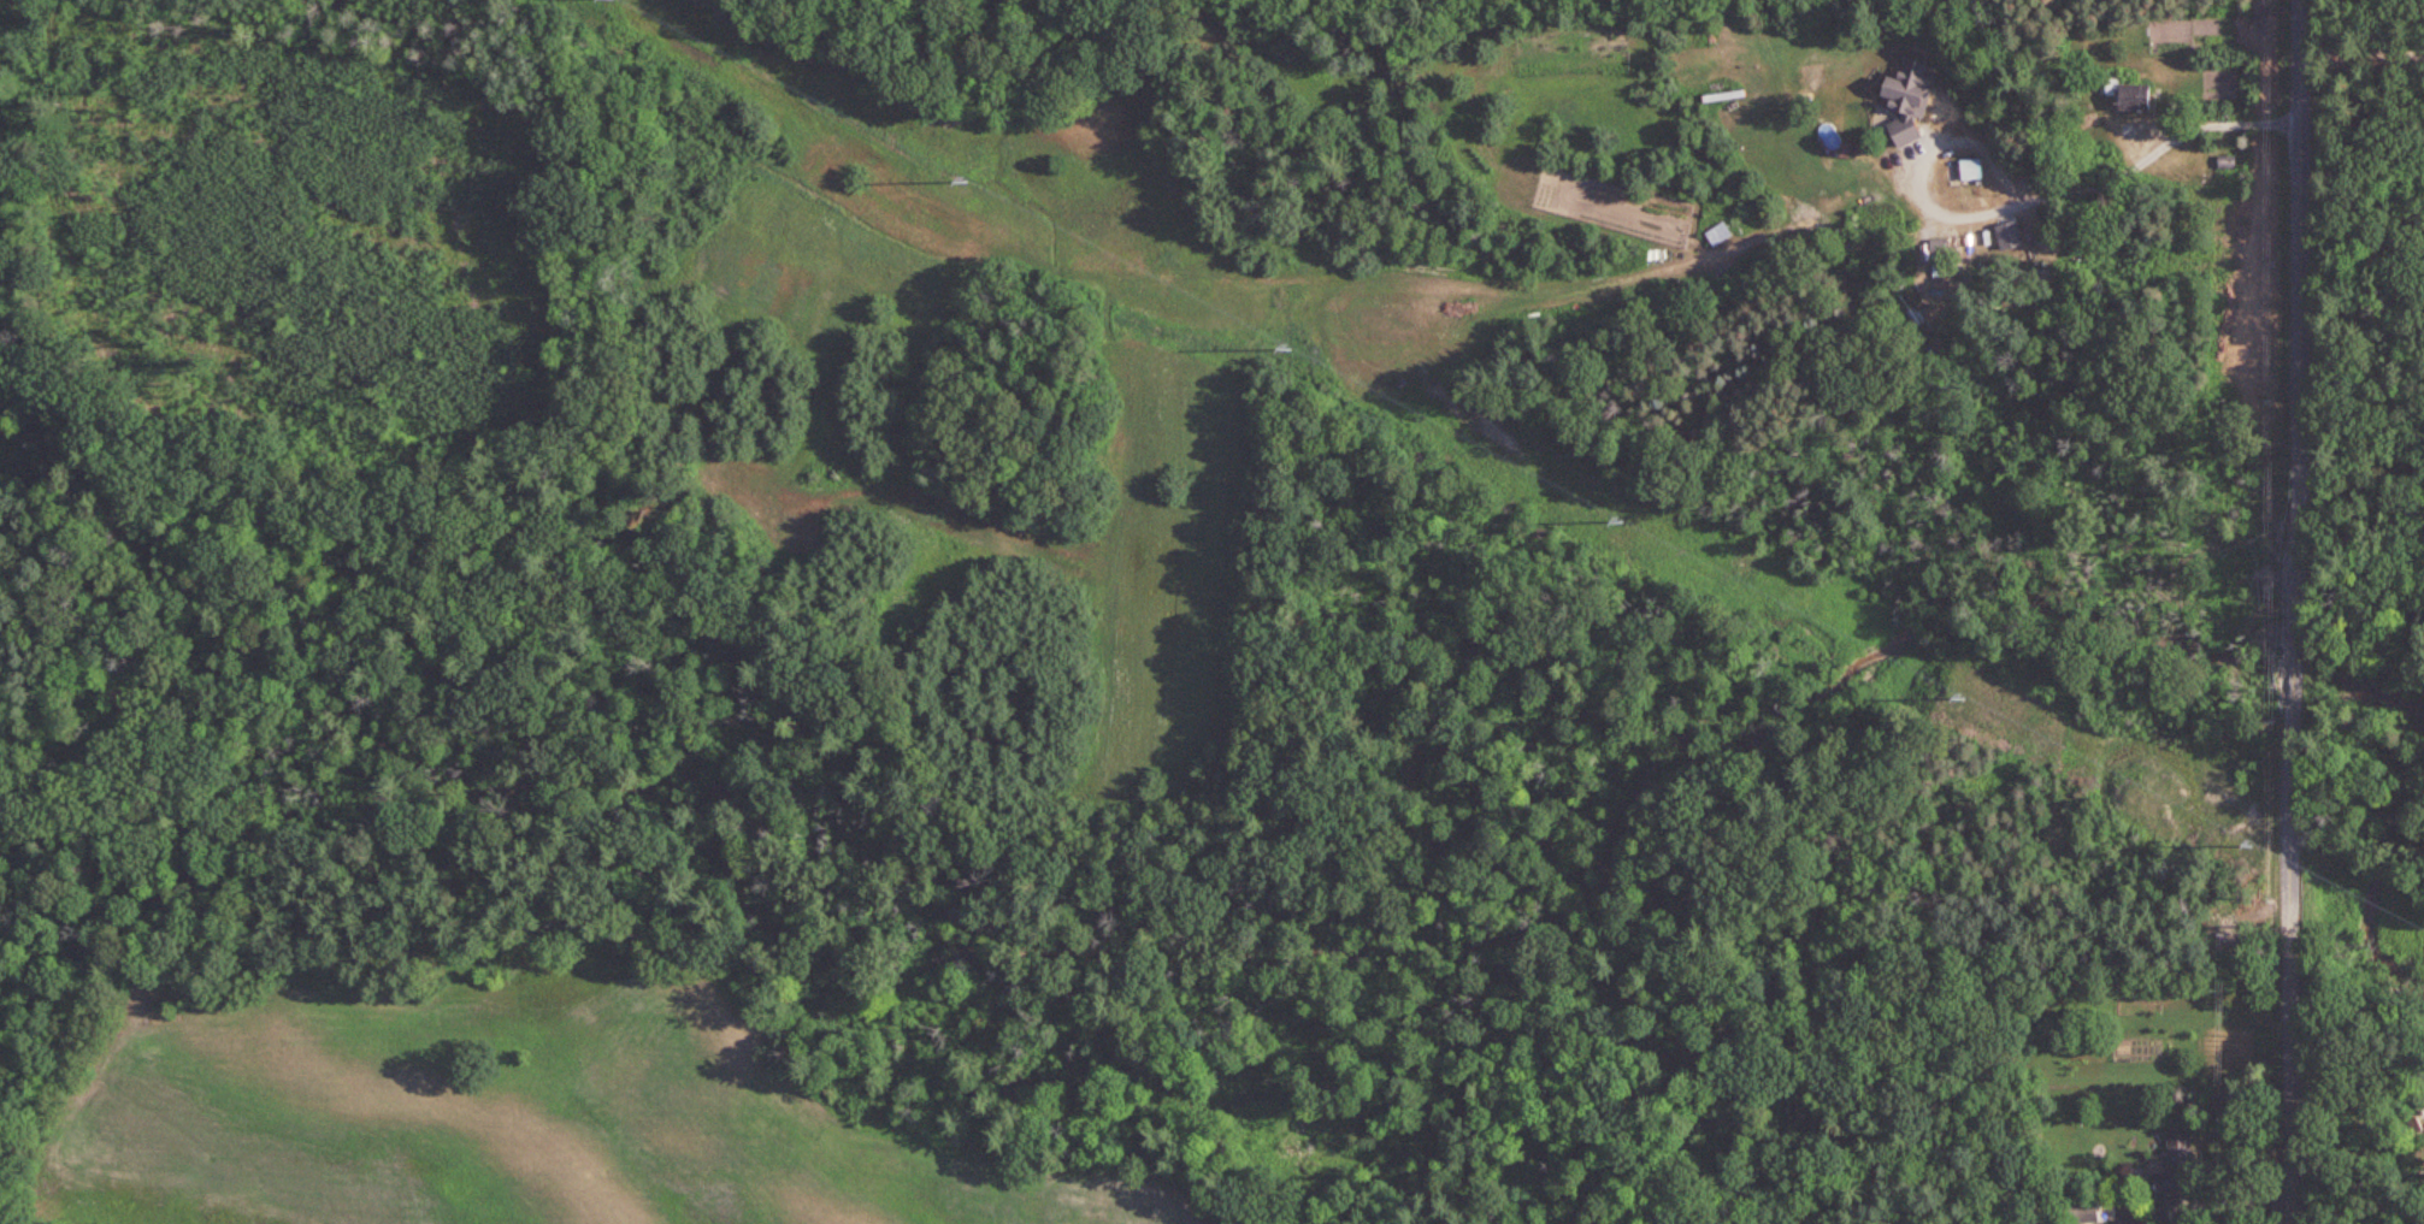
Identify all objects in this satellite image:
road: (2363, 46)
building: (1727, 95)
building: (2136, 97)
building: (1852, 128)
building: (1972, 168)
building: (2034, 176)
power tower: (967, 179)
road: (2025, 201)
building: (1720, 233)
building: (2028, 288)
power tower: (1290, 343)
park: (2365, 514)
power tower: (1620, 515)
road: (2294, 611)
power tower: (1962, 691)
power tower: (2251, 841)
building: (2128, 989)
building: (2177, 1179)
building: (2083, 1211)

